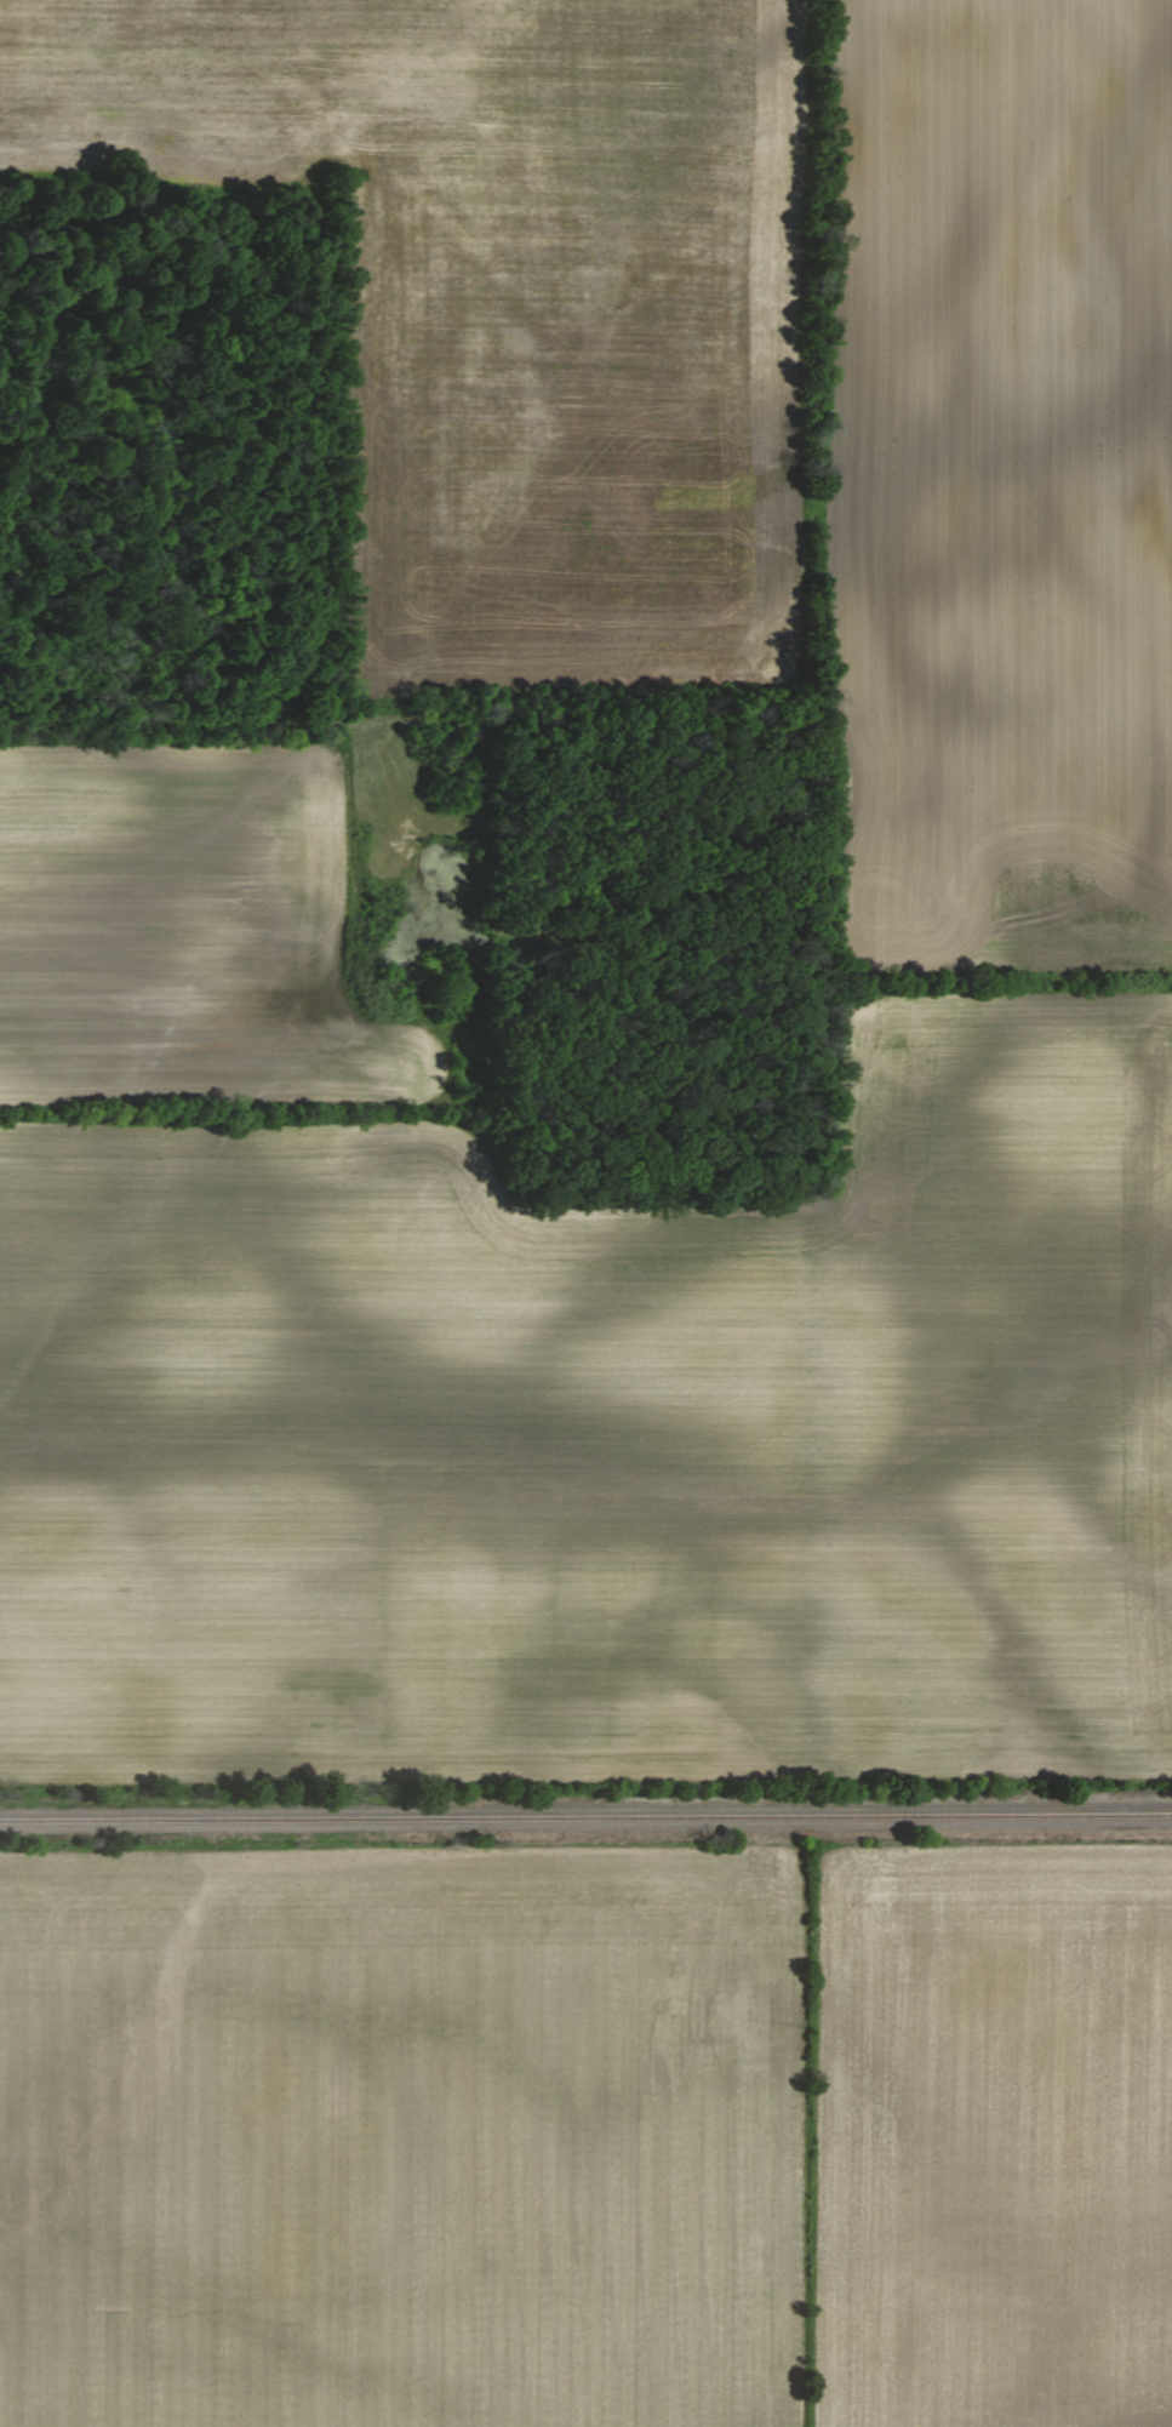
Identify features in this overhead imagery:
road: (316, 721)
railway: (585, 1817)

